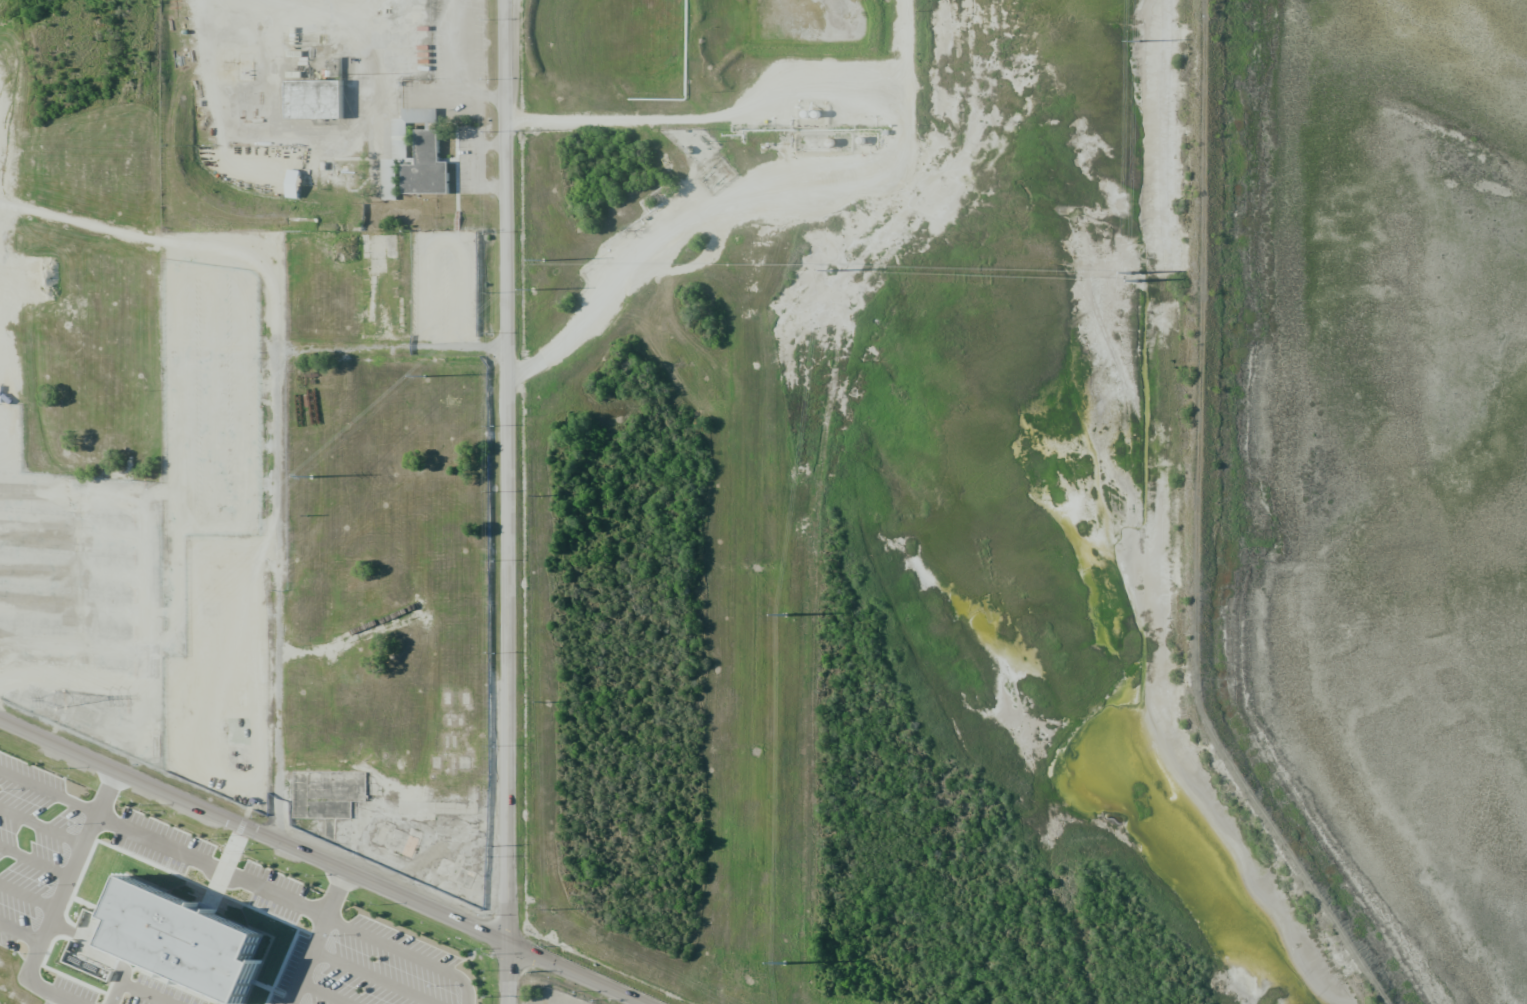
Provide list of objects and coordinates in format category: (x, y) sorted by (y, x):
power tower: (1137, 43)
building: (245, 71)
building: (322, 104)
building: (401, 146)
building: (425, 166)
building: (296, 185)
power tower: (543, 260)
power tower: (830, 271)
power tower: (1132, 276)
power tower: (532, 289)
power tower: (424, 376)
road: (506, 472)
power tower: (311, 476)
road: (275, 479)
power tower: (540, 495)
power tower: (785, 616)
power tower: (58, 699)
power tower: (543, 703)
road: (50, 794)
road: (321, 862)
road: (213, 867)
road: (336, 895)
road: (64, 899)
power tower: (549, 910)
road: (21, 934)
road: (396, 949)
building: (201, 952)
road: (309, 961)
power tower: (783, 963)
building: (88, 967)
road: (507, 974)
road: (469, 992)

